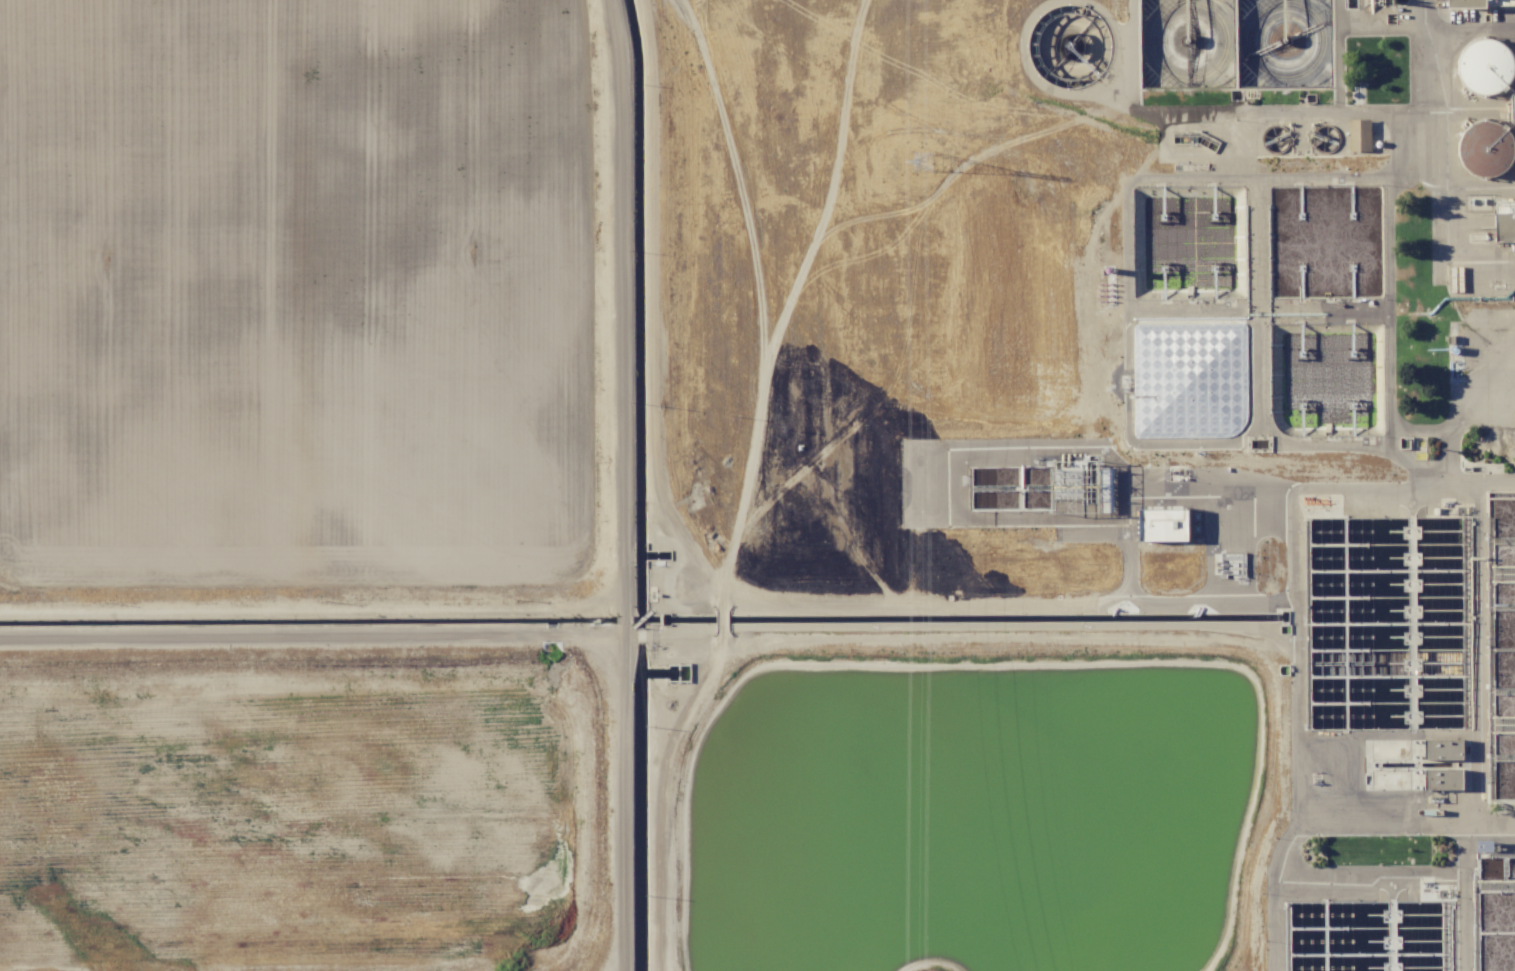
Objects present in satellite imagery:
wastewater plant: (1236, 43)
wastewater plant: (1069, 44)
building: (1482, 64)
building: (1512, 105)
building: (1357, 133)
building: (1481, 147)
power tower: (925, 161)
wastewater plant: (1326, 242)
wastewater plant: (1186, 243)
wastewater plant: (296, 289)
wastewater plant: (1189, 380)
wastewater plant: (1325, 380)
road: (622, 485)
wastewater plant: (757, 485)
road: (311, 600)
wastewater plant: (1384, 622)
road: (312, 634)
wastewater plant: (1501, 648)
road: (1298, 653)
building: (1439, 748)
building: (1440, 778)
wastewater plant: (969, 814)
wastewater plant: (292, 819)
wastewater plant: (1497, 913)
wastewater plant: (1365, 935)

